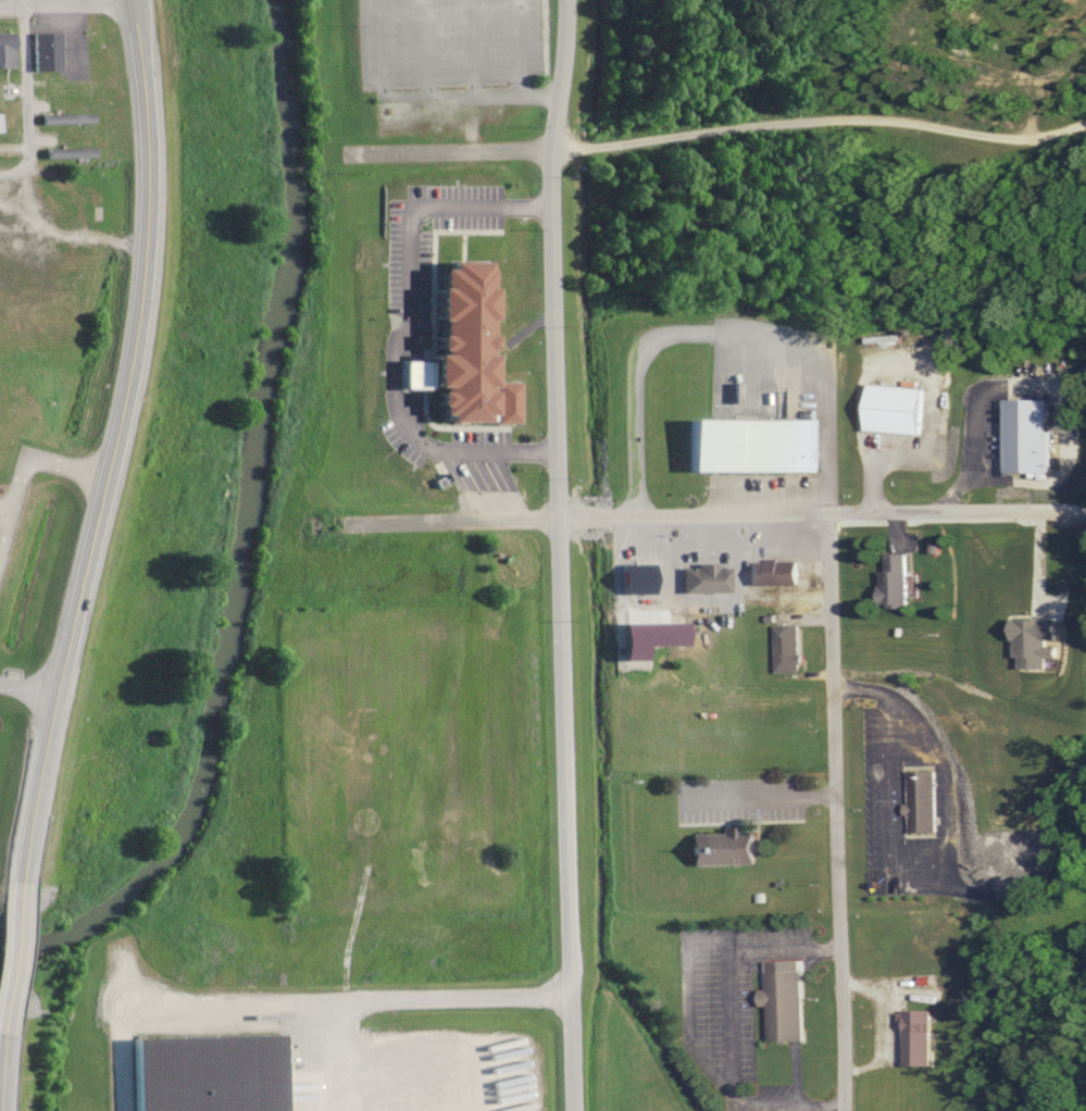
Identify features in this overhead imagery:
road: (64, 1)
building: (8, 50)
building: (48, 52)
road: (26, 95)
building: (68, 118)
road: (820, 122)
building: (0, 124)
road: (448, 150)
building: (71, 153)
road: (116, 173)
road: (43, 174)
building: (54, 203)
building: (897, 410)
building: (1029, 437)
road: (116, 440)
building: (754, 446)
road: (690, 514)
river: (242, 527)
road: (557, 554)
building: (775, 572)
building: (640, 577)
building: (708, 577)
building: (896, 581)
building: (789, 648)
road: (27, 688)
building: (922, 801)
road: (837, 811)
building: (726, 848)
road: (15, 952)
building: (785, 1003)
building: (920, 1038)
road: (3, 1070)
building: (211, 1073)

